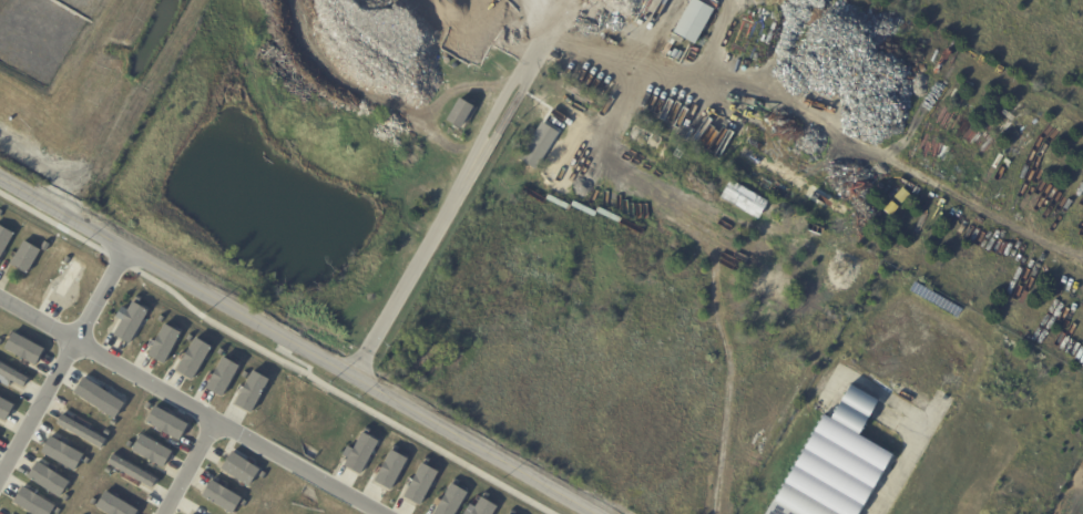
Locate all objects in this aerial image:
building: (692, 21)
road: (648, 25)
road: (701, 62)
building: (472, 84)
building: (459, 112)
building: (538, 145)
road: (471, 171)
building: (759, 205)
building: (1, 213)
building: (4, 241)
building: (47, 247)
building: (27, 257)
building: (72, 282)
building: (770, 289)
building: (126, 322)
road: (298, 347)
building: (166, 350)
building: (28, 352)
road: (273, 357)
road: (62, 364)
building: (197, 364)
building: (16, 377)
building: (226, 382)
building: (256, 394)
building: (101, 401)
road: (190, 407)
building: (7, 411)
building: (170, 426)
road: (922, 426)
building: (84, 432)
building: (359, 452)
building: (154, 454)
building: (67, 456)
building: (836, 463)
road: (187, 467)
building: (239, 469)
building: (389, 469)
building: (134, 474)
building: (54, 483)
building: (420, 483)
building: (225, 500)
building: (449, 500)
building: (32, 503)
building: (116, 505)
building: (481, 506)

